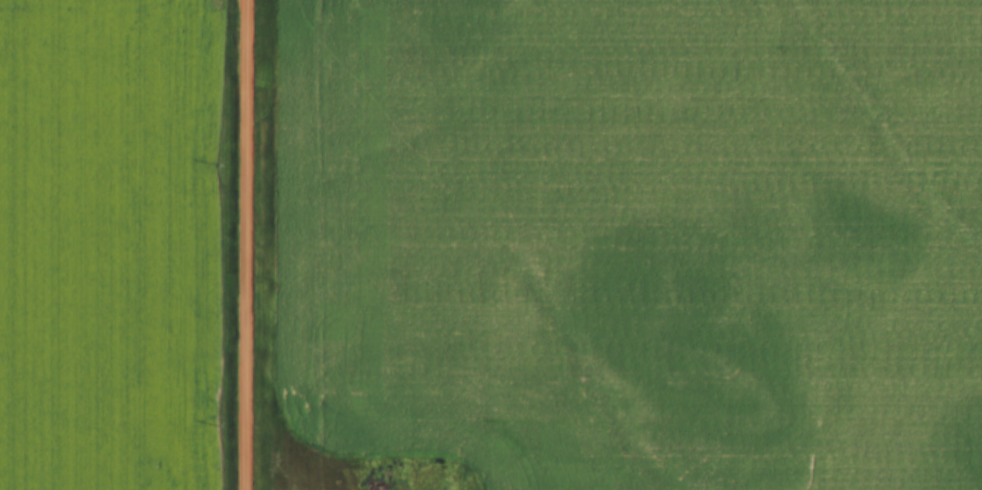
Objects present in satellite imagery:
road: (244, 245)

